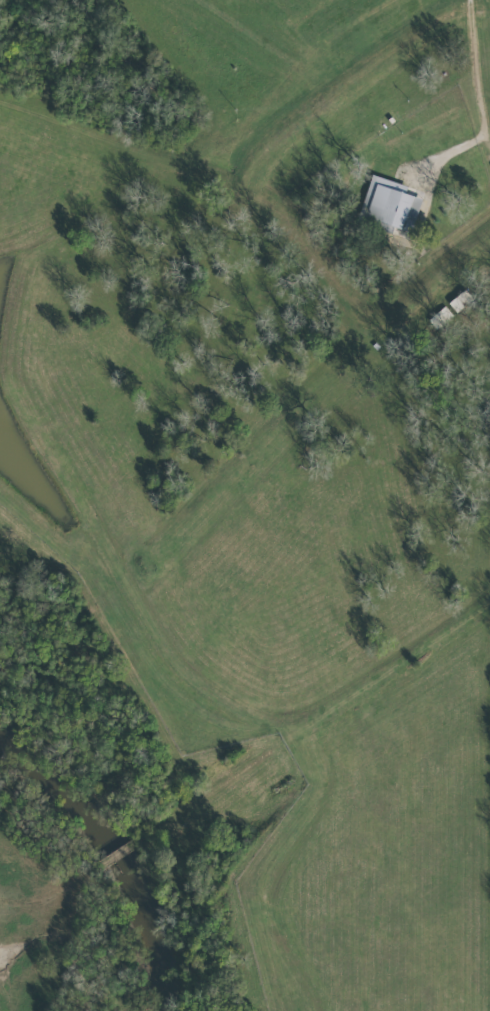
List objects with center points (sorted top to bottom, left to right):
road: (473, 103)
building: (388, 202)
river: (113, 863)

